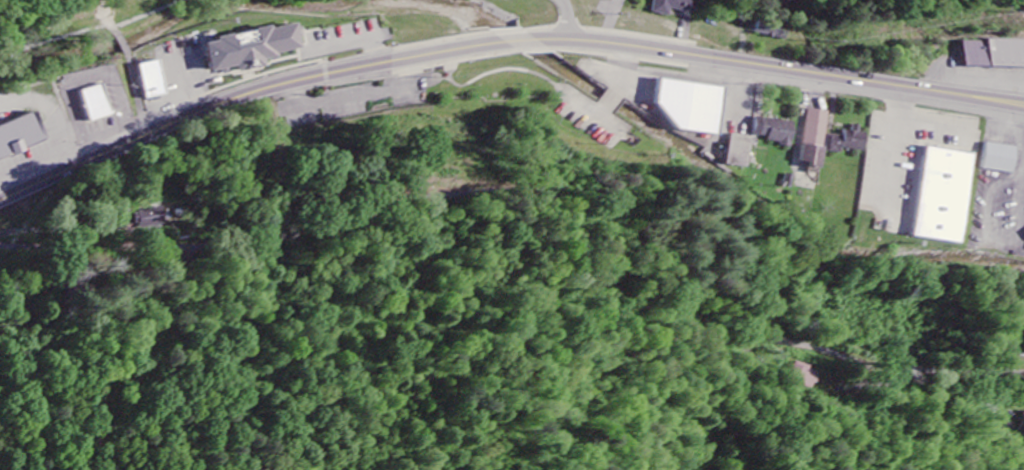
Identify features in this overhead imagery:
building: (677, 6)
road: (138, 18)
road: (527, 19)
building: (775, 30)
parking lot: (349, 33)
road: (351, 39)
road: (46, 45)
building: (253, 48)
building: (997, 53)
road: (783, 68)
parking lot: (962, 71)
road: (135, 76)
road: (86, 80)
building: (153, 81)
road: (262, 82)
road: (57, 86)
road: (355, 95)
building: (97, 105)
building: (694, 106)
parking lot: (351, 107)
building: (777, 131)
building: (22, 137)
building: (816, 138)
building: (848, 141)
parking lot: (907, 143)
building: (742, 145)
building: (997, 152)
parking lot: (14, 171)
road: (532, 188)
building: (939, 189)
building: (155, 215)

